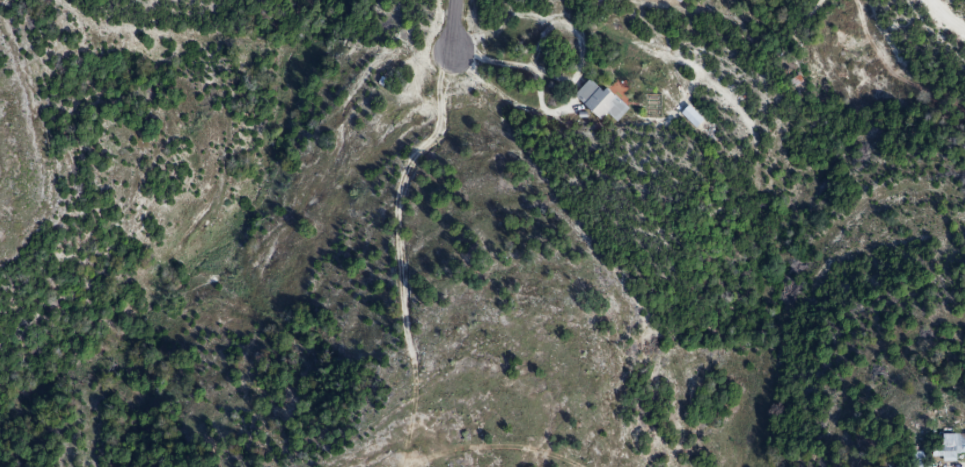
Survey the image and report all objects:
road: (454, 24)
road: (532, 64)
road: (513, 66)
road: (577, 72)
building: (601, 103)
road: (463, 444)
building: (952, 448)
building: (919, 460)

